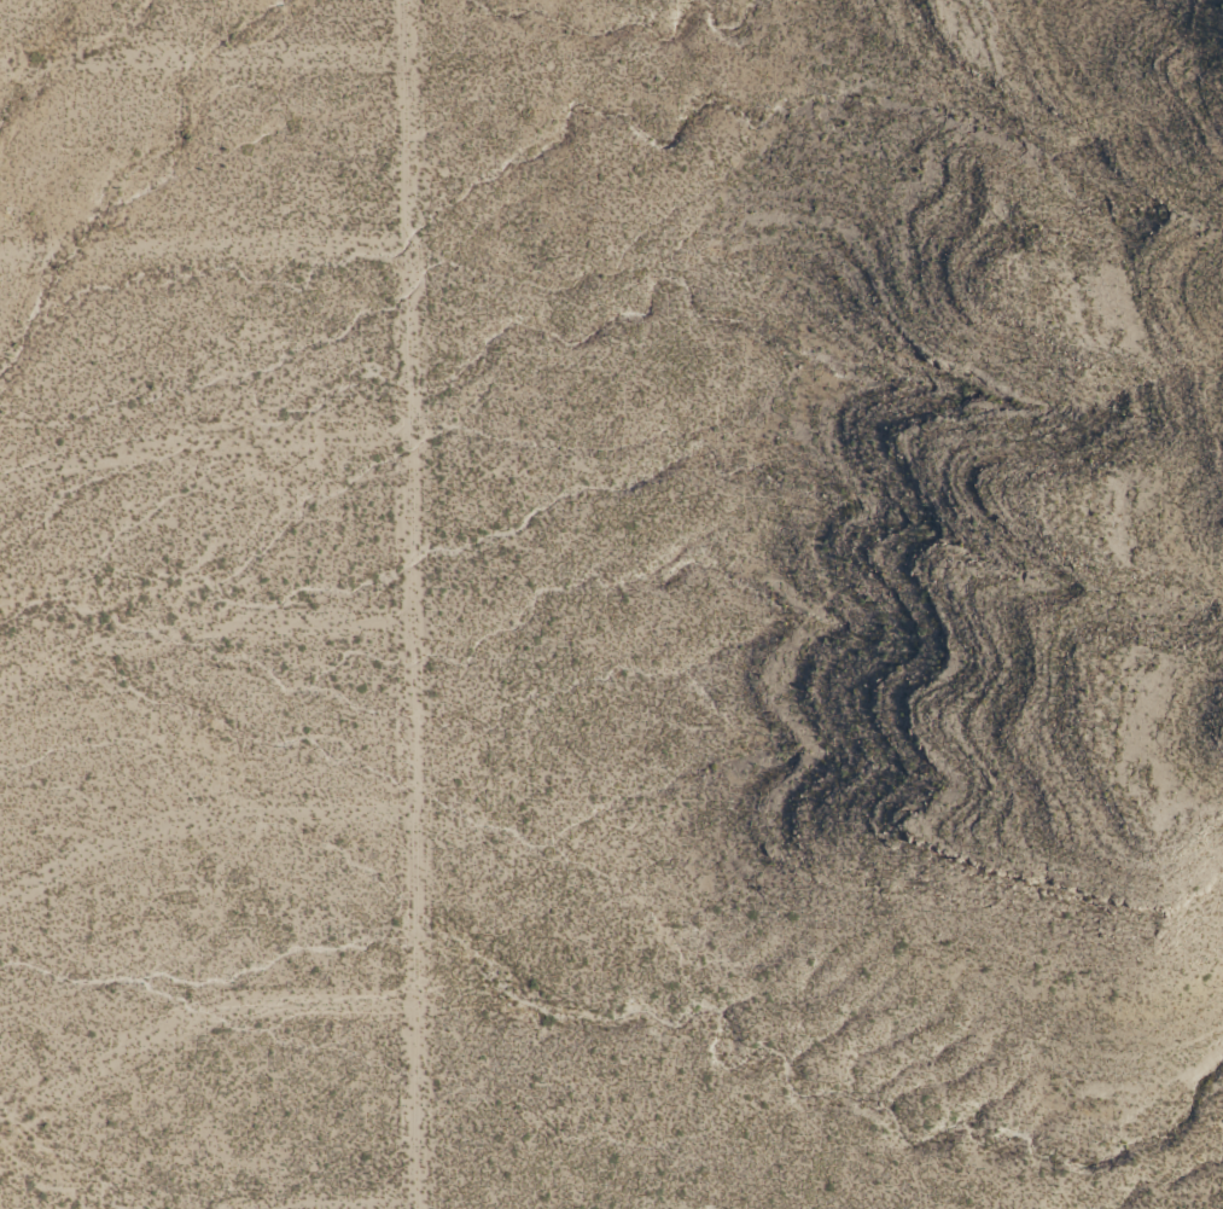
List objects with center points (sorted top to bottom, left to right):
road: (200, 60)
road: (202, 246)
road: (202, 441)
road: (410, 604)
road: (200, 630)
road: (198, 820)
road: (193, 1016)
road: (361, 1203)

